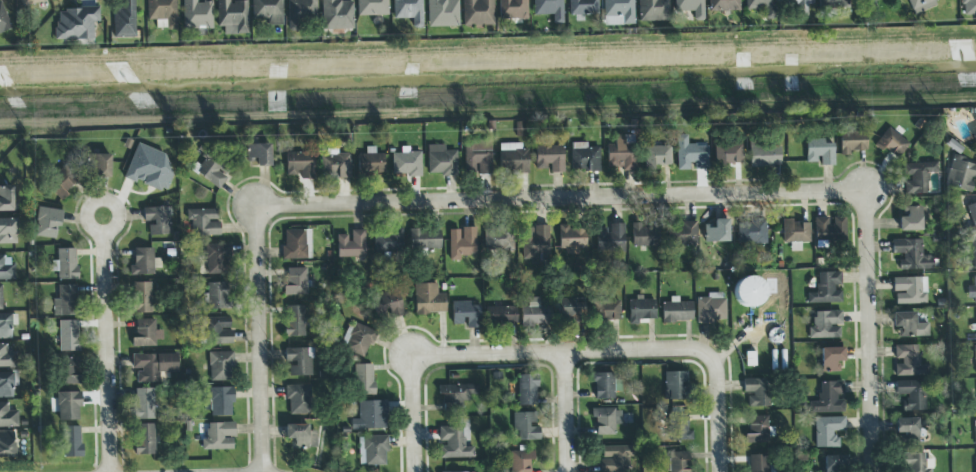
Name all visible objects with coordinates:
building: (868, 1)
building: (31, 2)
building: (832, 4)
building: (921, 4)
building: (723, 5)
building: (798, 5)
building: (371, 7)
building: (582, 7)
building: (761, 7)
building: (968, 7)
building: (690, 8)
building: (512, 9)
building: (549, 9)
building: (267, 10)
building: (653, 10)
building: (408, 11)
building: (299, 12)
building: (617, 12)
building: (161, 13)
building: (442, 13)
building: (477, 13)
building: (196, 14)
building: (336, 14)
building: (231, 17)
building: (3, 20)
building: (124, 20)
building: (75, 23)
road: (487, 49)
road: (487, 113)
building: (975, 120)
building: (973, 131)
building: (851, 142)
building: (892, 143)
building: (818, 152)
building: (259, 153)
building: (621, 154)
building: (729, 154)
building: (690, 155)
building: (764, 155)
building: (656, 156)
building: (477, 158)
building: (512, 158)
building: (549, 158)
building: (583, 158)
building: (441, 161)
building: (369, 162)
building: (333, 164)
building: (405, 164)
building: (299, 165)
building: (97, 166)
building: (148, 168)
building: (212, 171)
building: (961, 174)
building: (917, 177)
building: (61, 182)
building: (5, 198)
road: (94, 201)
road: (561, 202)
building: (972, 215)
building: (910, 219)
building: (157, 220)
building: (47, 223)
building: (203, 223)
building: (828, 229)
building: (7, 231)
building: (716, 231)
building: (751, 232)
building: (794, 232)
building: (683, 234)
building: (643, 236)
building: (497, 238)
building: (424, 239)
building: (572, 239)
building: (610, 239)
building: (387, 241)
building: (461, 243)
building: (535, 243)
building: (293, 244)
building: (351, 244)
building: (911, 254)
building: (973, 254)
building: (217, 259)
building: (142, 262)
building: (65, 264)
building: (6, 268)
building: (295, 281)
building: (826, 288)
building: (909, 290)
building: (971, 291)
building: (749, 293)
storage tank: (749, 293)
building: (215, 296)
building: (141, 298)
building: (428, 299)
building: (0, 301)
building: (65, 301)
building: (386, 304)
building: (710, 308)
building: (571, 310)
building: (606, 310)
building: (640, 310)
building: (676, 311)
water tower: (757, 311)
building: (534, 314)
building: (465, 315)
building: (500, 316)
building: (294, 321)
building: (825, 325)
building: (908, 325)
building: (5, 326)
building: (217, 331)
building: (145, 333)
road: (868, 334)
building: (67, 336)
building: (358, 339)
road: (260, 341)
road: (109, 351)
building: (6, 357)
road: (564, 358)
building: (830, 359)
building: (975, 360)
building: (298, 361)
building: (909, 362)
building: (152, 366)
building: (220, 367)
building: (67, 372)
building: (363, 379)
building: (5, 384)
building: (604, 385)
building: (675, 386)
building: (526, 390)
building: (755, 392)
building: (911, 394)
building: (455, 395)
building: (828, 398)
building: (298, 400)
building: (220, 402)
building: (143, 404)
building: (68, 406)
road: (568, 414)
road: (412, 415)
building: (7, 416)
building: (370, 416)
road: (717, 418)
building: (606, 420)
building: (525, 426)
building: (678, 427)
building: (907, 429)
building: (757, 430)
building: (974, 430)
building: (828, 431)
building: (218, 437)
building: (300, 437)
building: (144, 439)
building: (71, 442)
building: (452, 444)
building: (6, 445)
building: (372, 451)
building: (616, 459)
building: (519, 461)
building: (678, 462)
building: (758, 463)
building: (834, 463)
building: (915, 463)
building: (975, 467)

